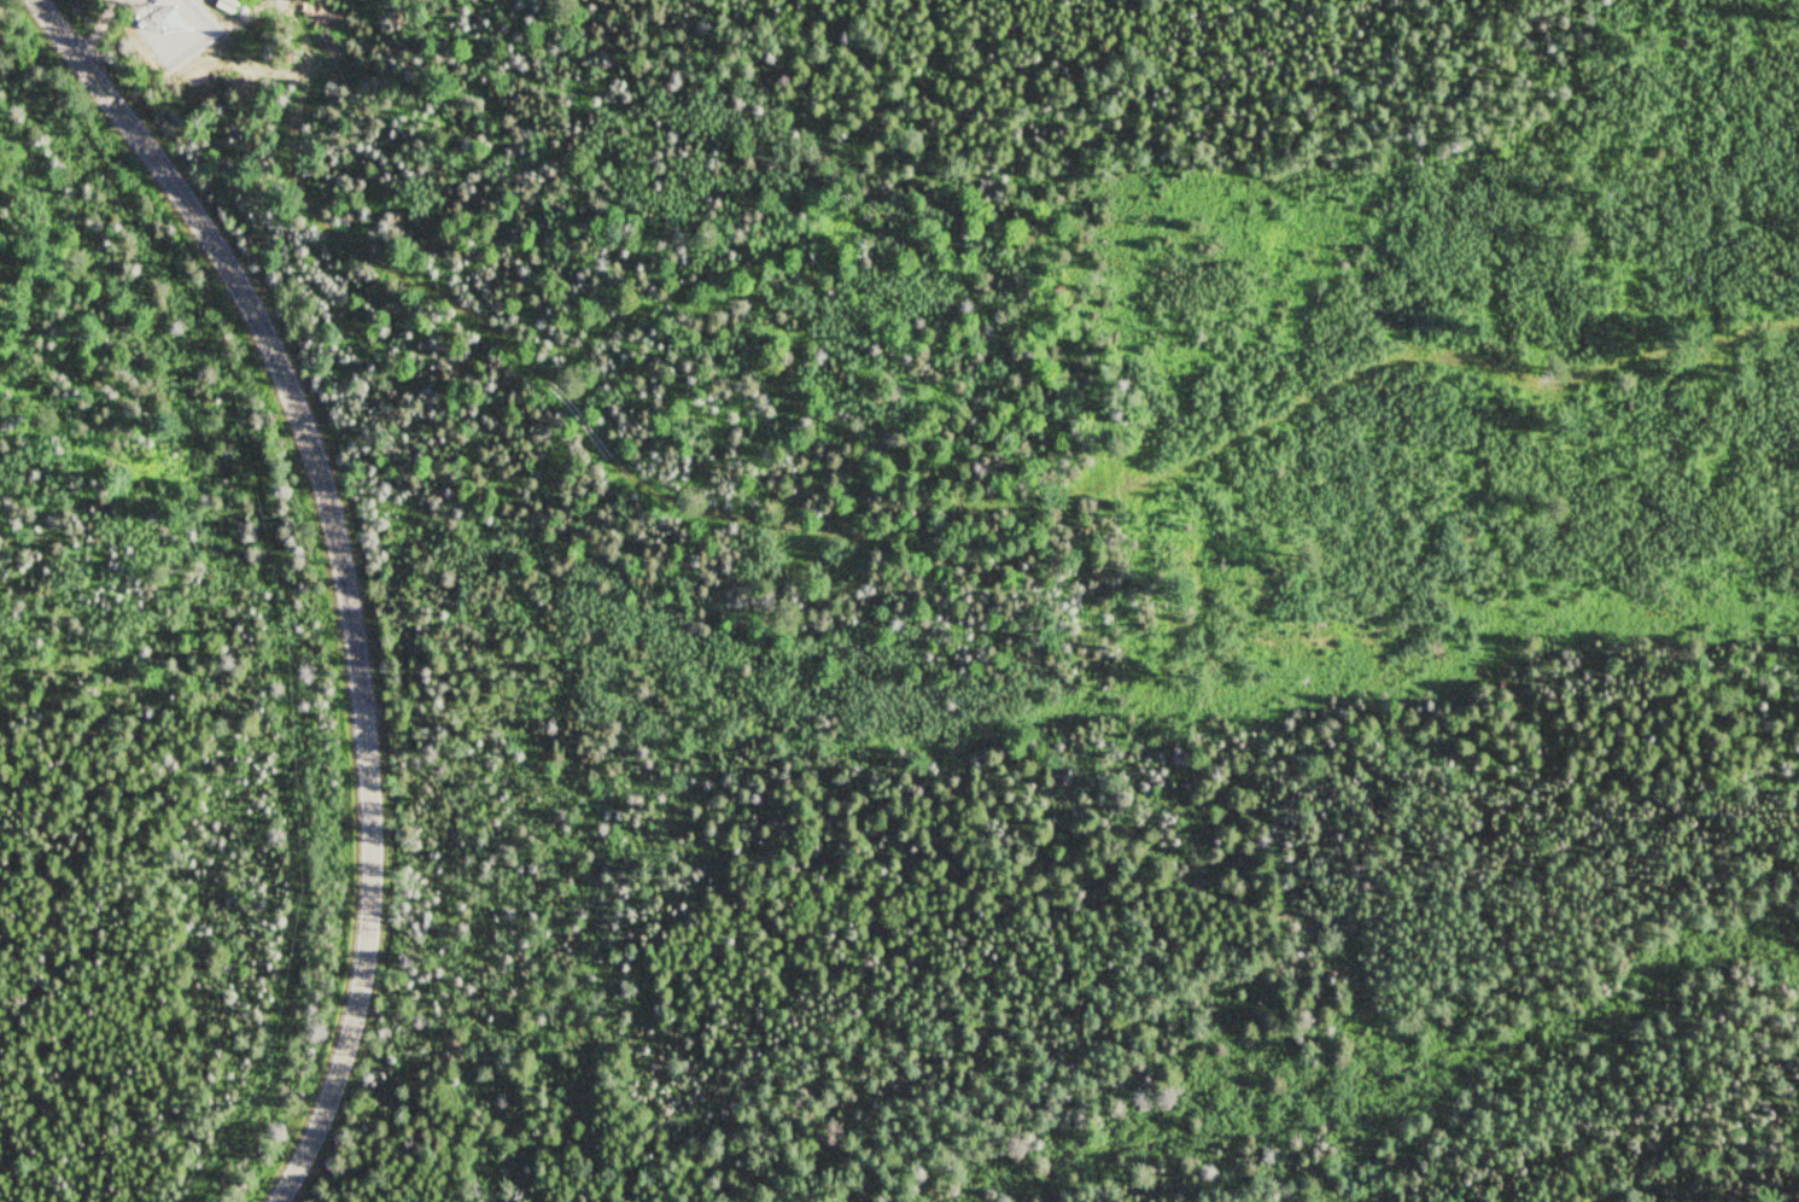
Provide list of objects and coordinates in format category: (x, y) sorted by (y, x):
road: (345, 567)

